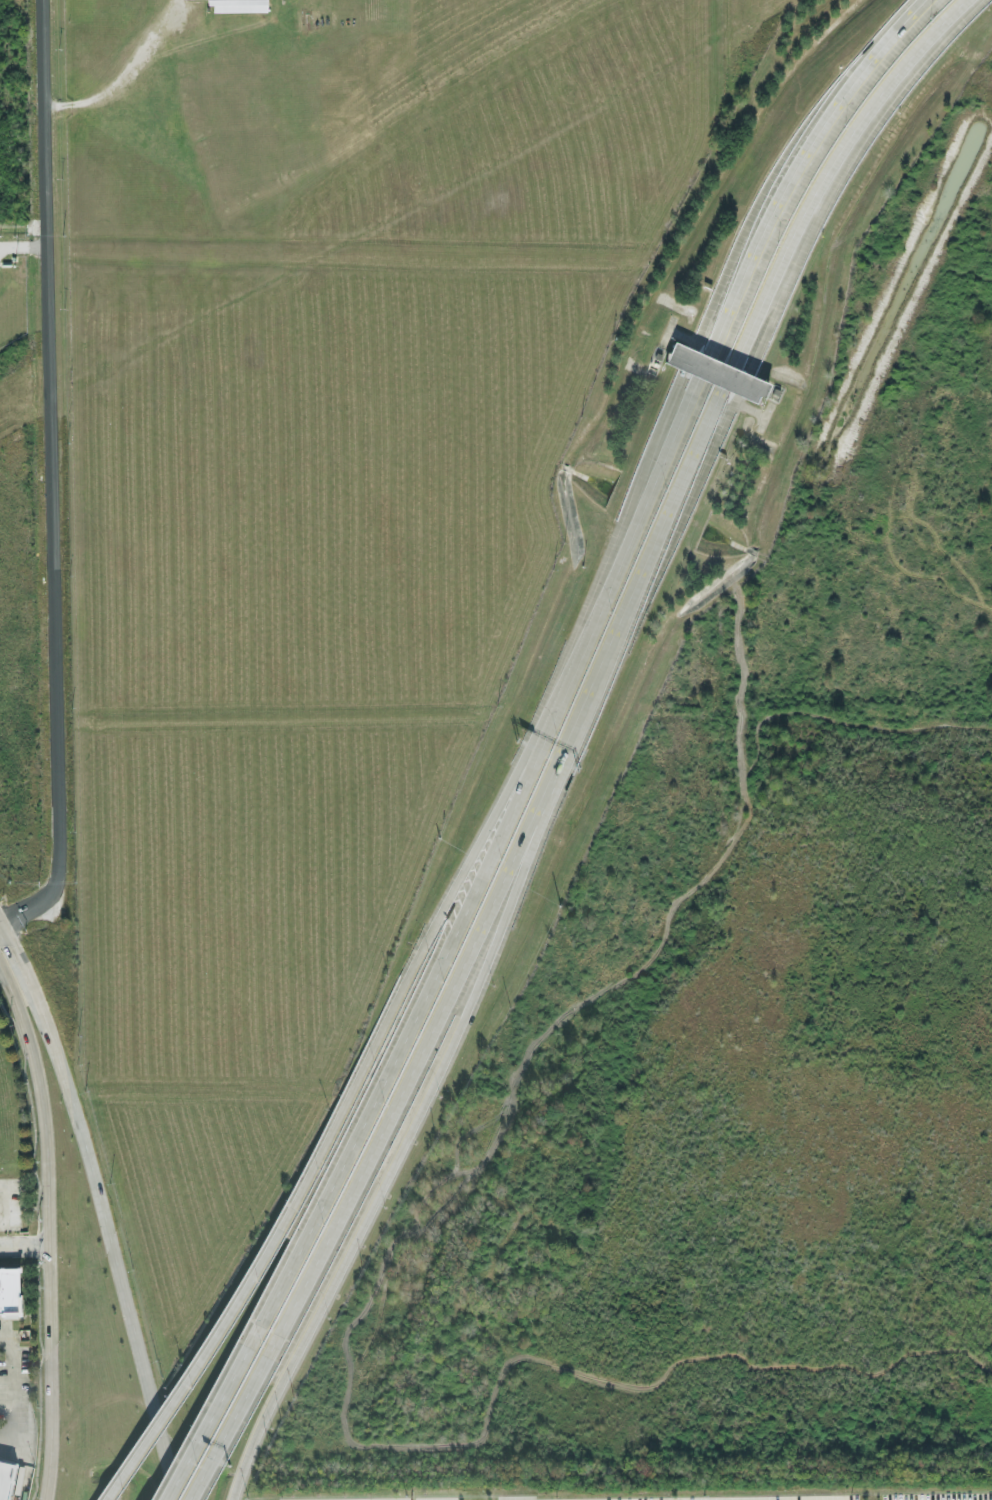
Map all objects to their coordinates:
building: (239, 3)
road: (123, 75)
road: (795, 166)
road: (825, 170)
road: (702, 367)
building: (718, 374)
road: (727, 378)
road: (667, 448)
road: (49, 474)
park: (313, 510)
road: (602, 604)
road: (551, 723)
road: (487, 910)
traffic signals: (6, 937)
road: (8, 941)
road: (24, 973)
park: (744, 1000)
road: (365, 1055)
road: (384, 1082)
road: (393, 1159)
road: (0, 1188)
road: (1, 1206)
road: (44, 1234)
road: (106, 1242)
road: (22, 1246)
building: (9, 1289)
road: (8, 1392)
road: (159, 1422)
road: (191, 1449)
road: (212, 1461)
building: (7, 1480)
road: (111, 1493)

